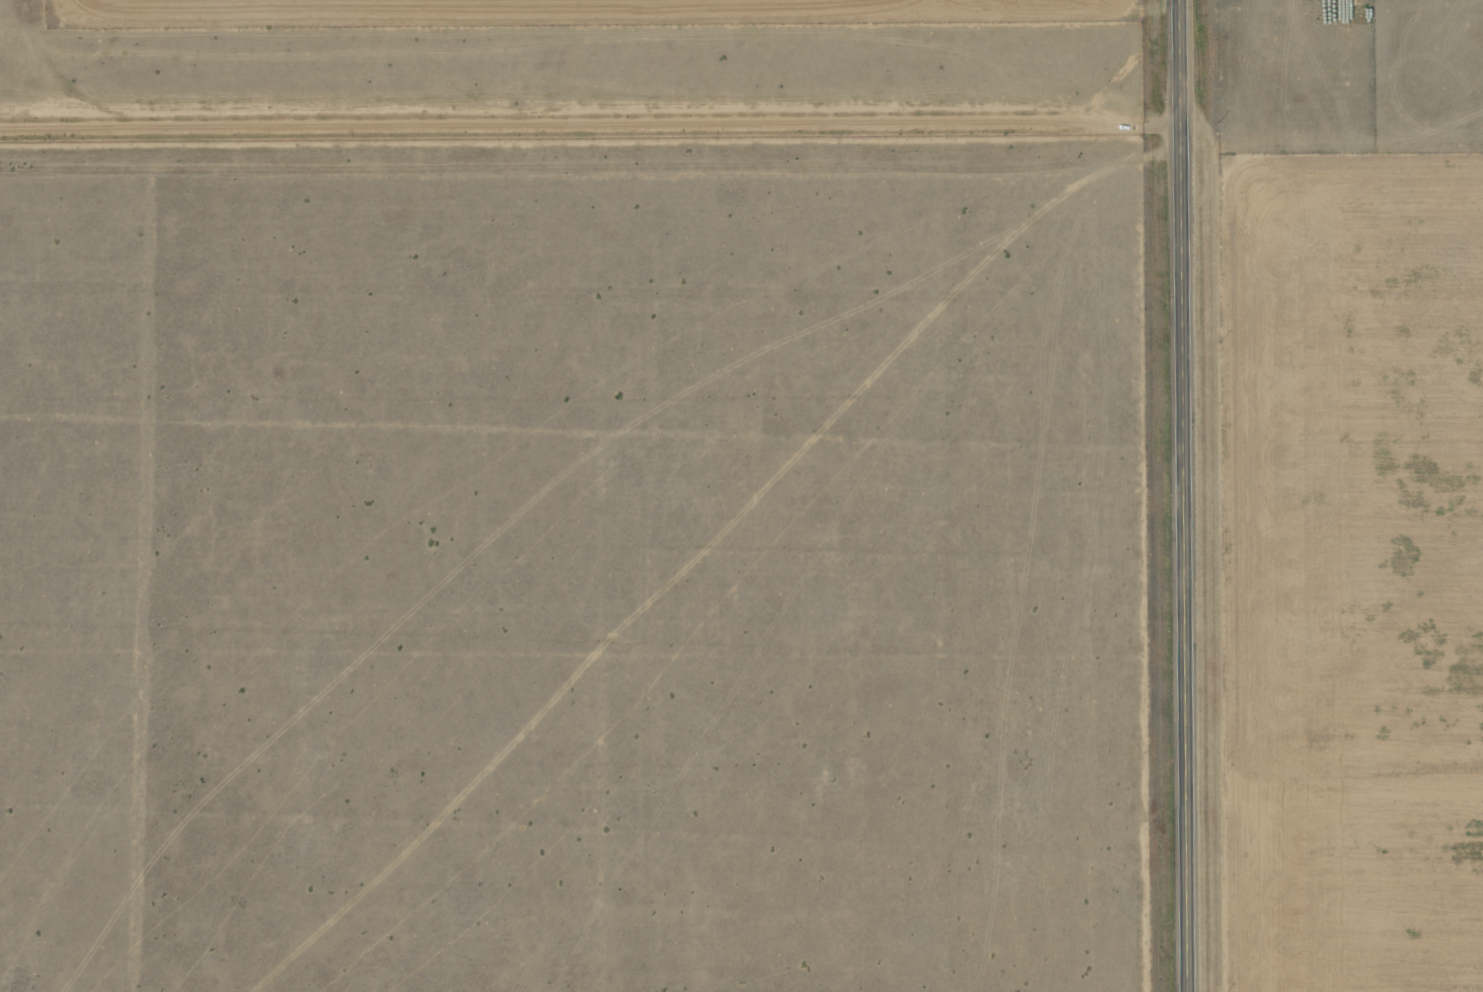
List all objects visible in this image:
road: (589, 123)
road: (589, 249)
road: (1181, 496)

